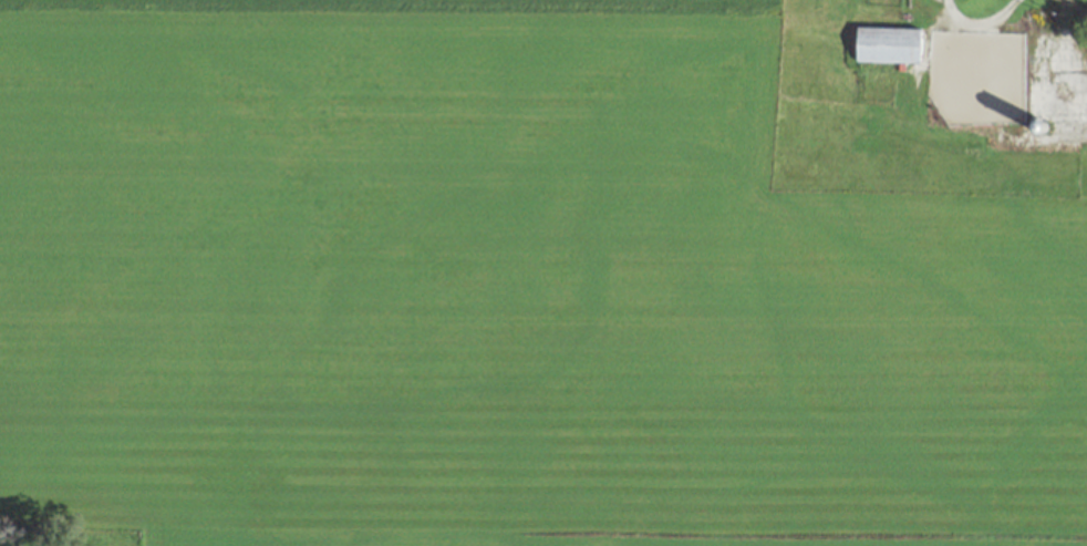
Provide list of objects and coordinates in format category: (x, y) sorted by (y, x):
road: (976, 22)
building: (887, 42)
building: (1017, 62)

